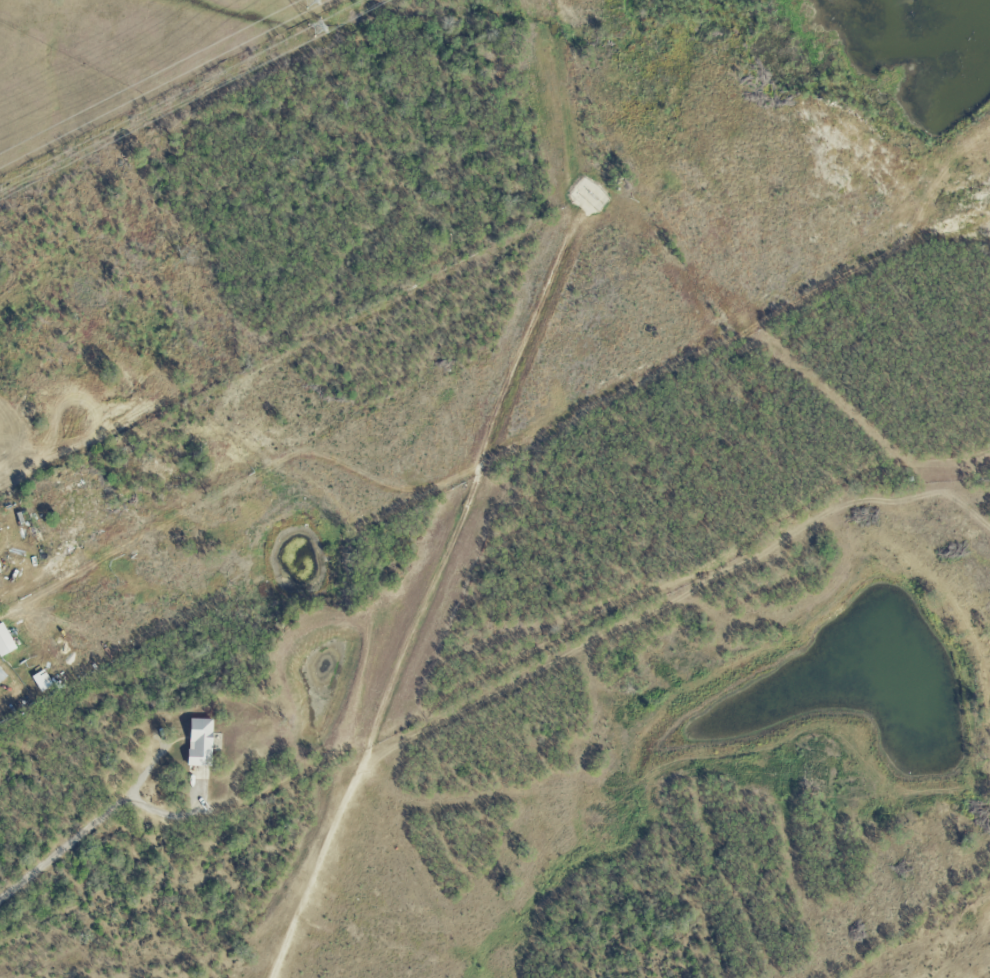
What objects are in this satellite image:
power tower: (316, 0)
power tower: (322, 27)
building: (6, 640)
building: (2, 674)
building: (44, 680)
building: (201, 742)
road: (99, 822)

